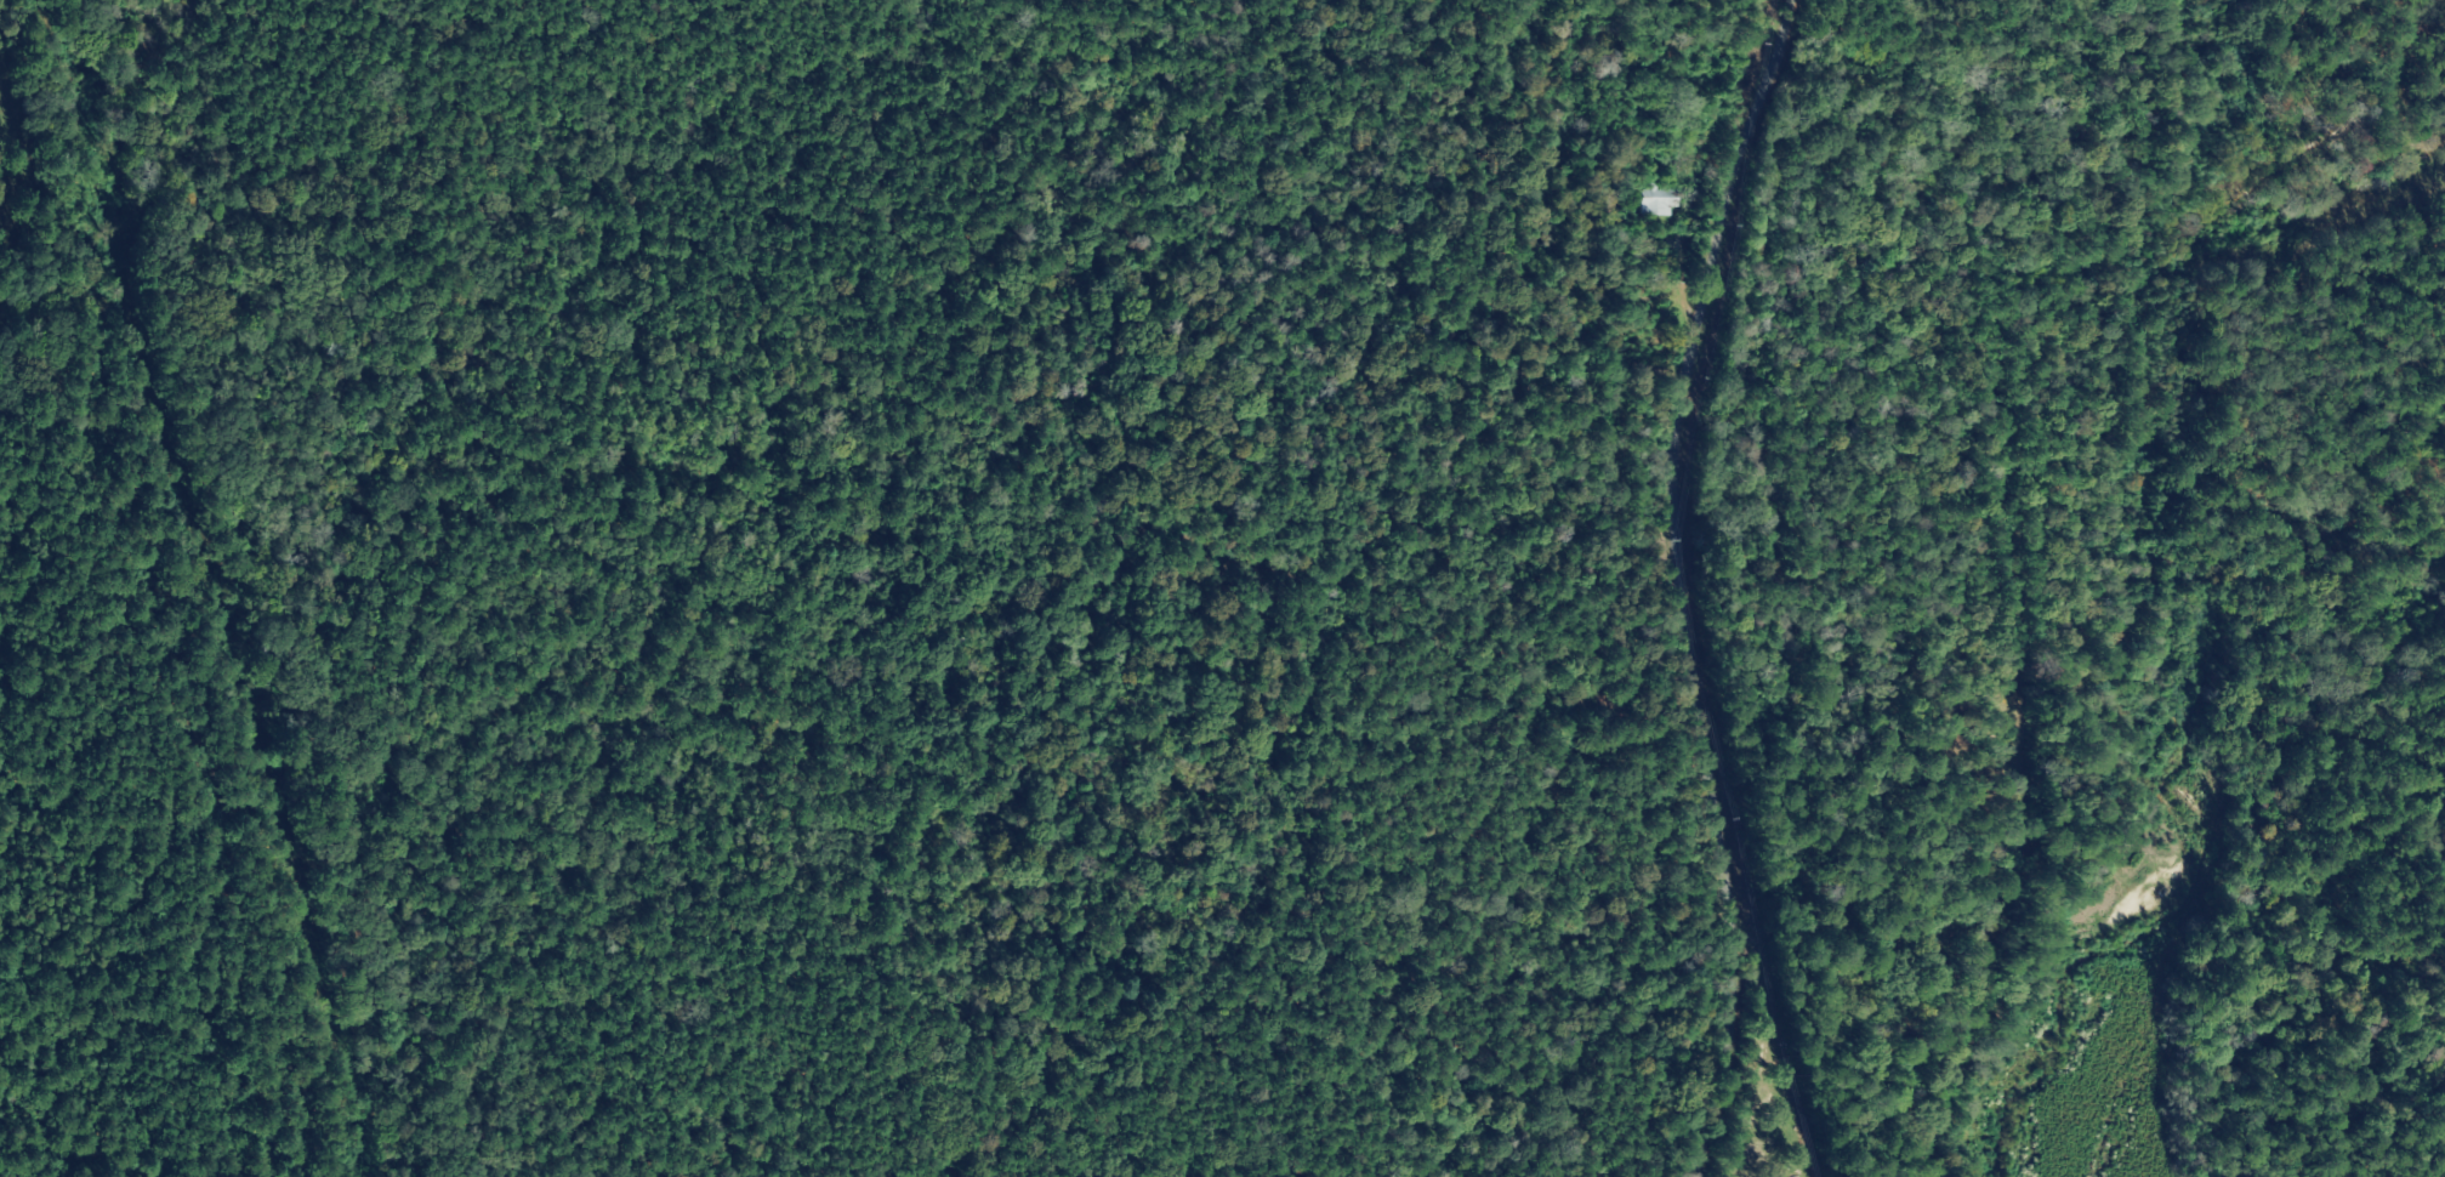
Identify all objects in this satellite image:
building: (1656, 201)
railway: (186, 584)
road: (1653, 595)

